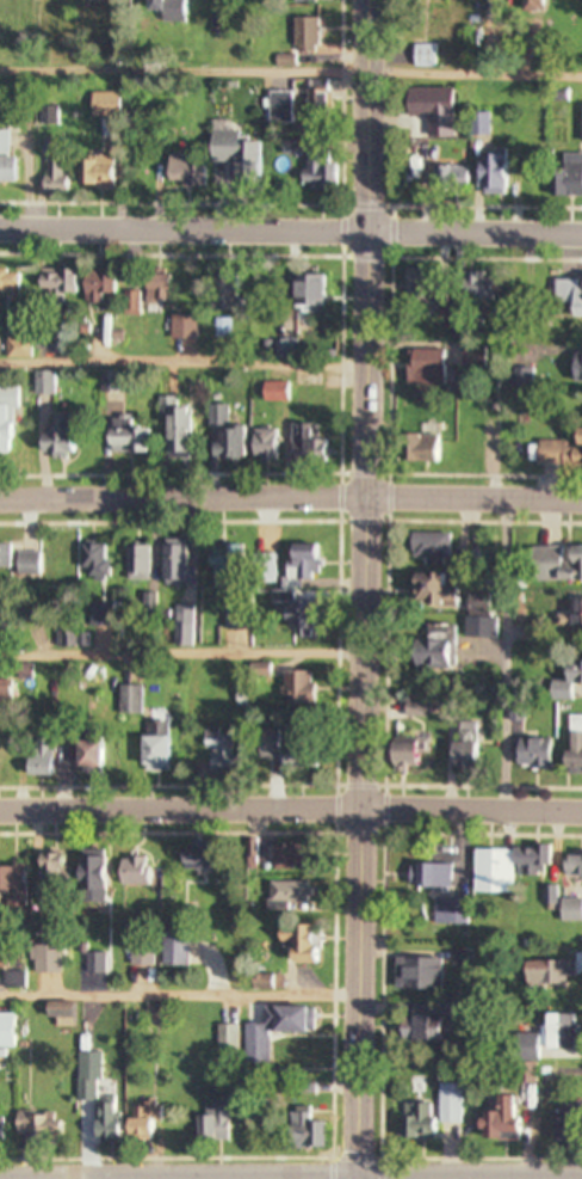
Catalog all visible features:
building: (298, 1)
building: (525, 6)
building: (163, 10)
building: (302, 36)
building: (18, 56)
building: (423, 56)
road: (291, 73)
building: (315, 104)
building: (428, 110)
building: (45, 116)
building: (477, 125)
building: (580, 125)
building: (230, 154)
building: (5, 161)
building: (308, 165)
building: (182, 171)
building: (92, 173)
building: (55, 174)
building: (441, 174)
building: (489, 174)
building: (565, 179)
road: (290, 235)
building: (52, 282)
building: (7, 283)
building: (94, 287)
building: (476, 288)
building: (568, 293)
building: (144, 294)
building: (422, 294)
building: (303, 295)
building: (219, 296)
building: (178, 328)
building: (281, 349)
road: (181, 364)
building: (576, 368)
building: (422, 369)
building: (520, 371)
building: (106, 382)
building: (39, 385)
building: (5, 420)
building: (172, 430)
building: (219, 436)
building: (51, 437)
building: (122, 437)
building: (302, 443)
building: (259, 444)
building: (417, 449)
building: (559, 452)
road: (291, 501)
building: (427, 548)
building: (2, 557)
building: (89, 561)
building: (132, 563)
building: (222, 563)
building: (173, 564)
building: (555, 564)
building: (24, 565)
building: (293, 566)
road: (361, 589)
building: (423, 590)
building: (574, 613)
building: (295, 618)
building: (179, 626)
building: (61, 634)
road: (180, 653)
building: (423, 655)
road: (504, 661)
building: (83, 674)
building: (564, 680)
building: (292, 689)
building: (1, 692)
building: (125, 701)
building: (411, 708)
building: (571, 744)
building: (150, 747)
building: (283, 747)
building: (462, 748)
building: (526, 751)
building: (213, 753)
building: (402, 754)
building: (79, 757)
building: (1, 762)
building: (33, 763)
road: (291, 815)
building: (270, 855)
building: (191, 859)
building: (570, 866)
building: (503, 868)
building: (130, 873)
building: (47, 877)
building: (426, 878)
building: (86, 879)
building: (11, 885)
building: (284, 895)
building: (568, 911)
building: (448, 914)
building: (292, 942)
building: (171, 950)
building: (0, 958)
building: (42, 960)
building: (92, 965)
building: (544, 974)
building: (415, 976)
building: (8, 982)
road: (179, 996)
building: (57, 1015)
building: (151, 1017)
building: (421, 1031)
building: (4, 1032)
building: (271, 1032)
building: (224, 1039)
building: (543, 1039)
building: (83, 1079)
building: (446, 1105)
building: (137, 1122)
building: (100, 1123)
building: (411, 1123)
building: (496, 1123)
building: (209, 1124)
building: (563, 1126)
building: (32, 1129)
building: (299, 1131)

